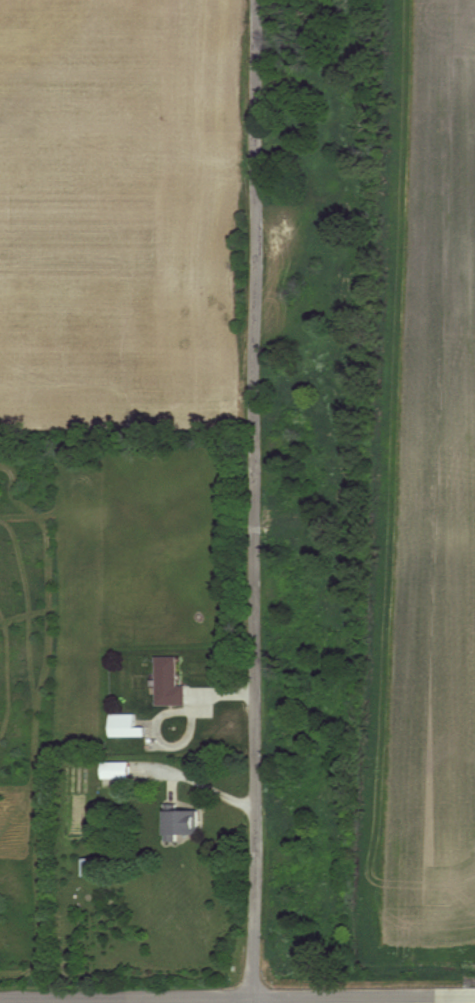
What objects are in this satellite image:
road: (255, 501)
building: (168, 683)
building: (115, 770)
building: (181, 824)
building: (89, 867)
road: (467, 994)
road: (229, 995)

